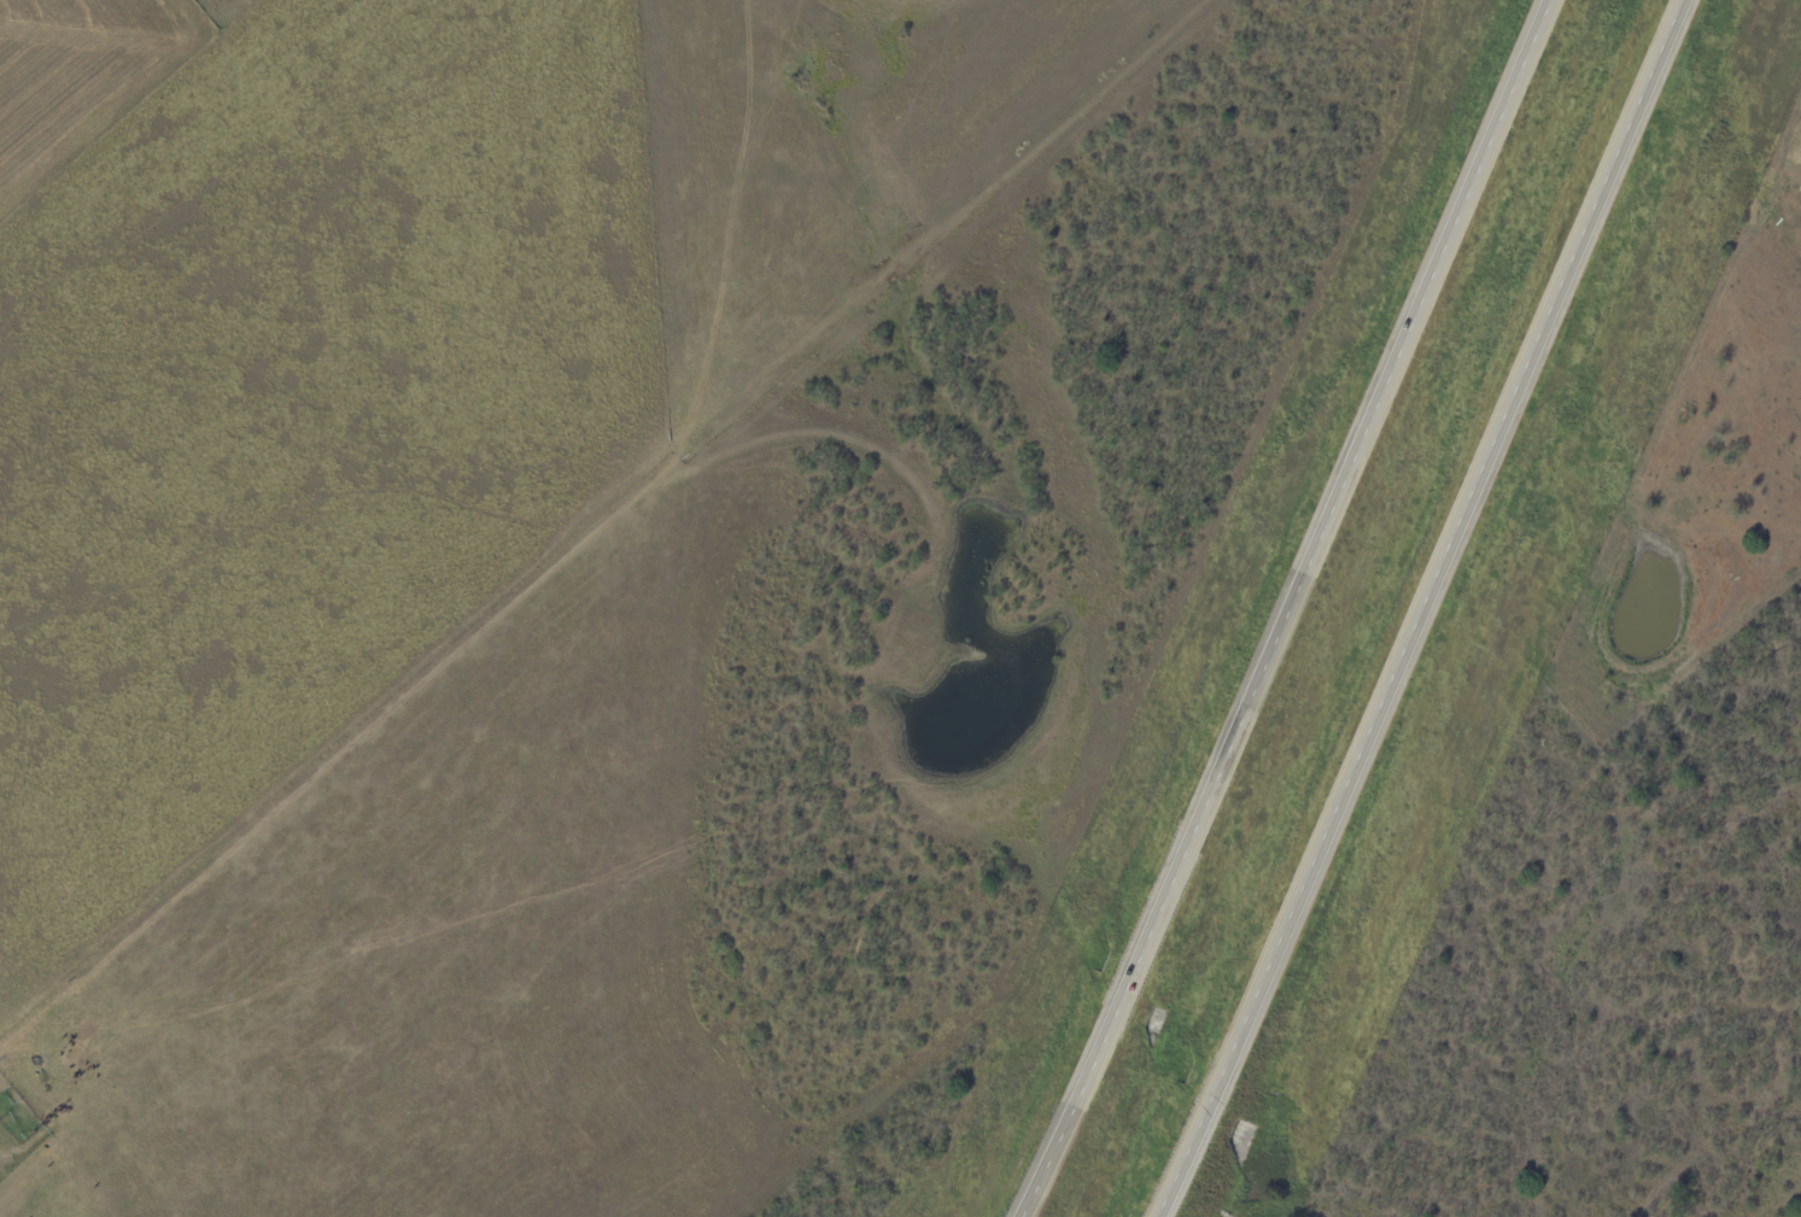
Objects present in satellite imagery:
road: (1417, 608)
road: (1282, 609)

